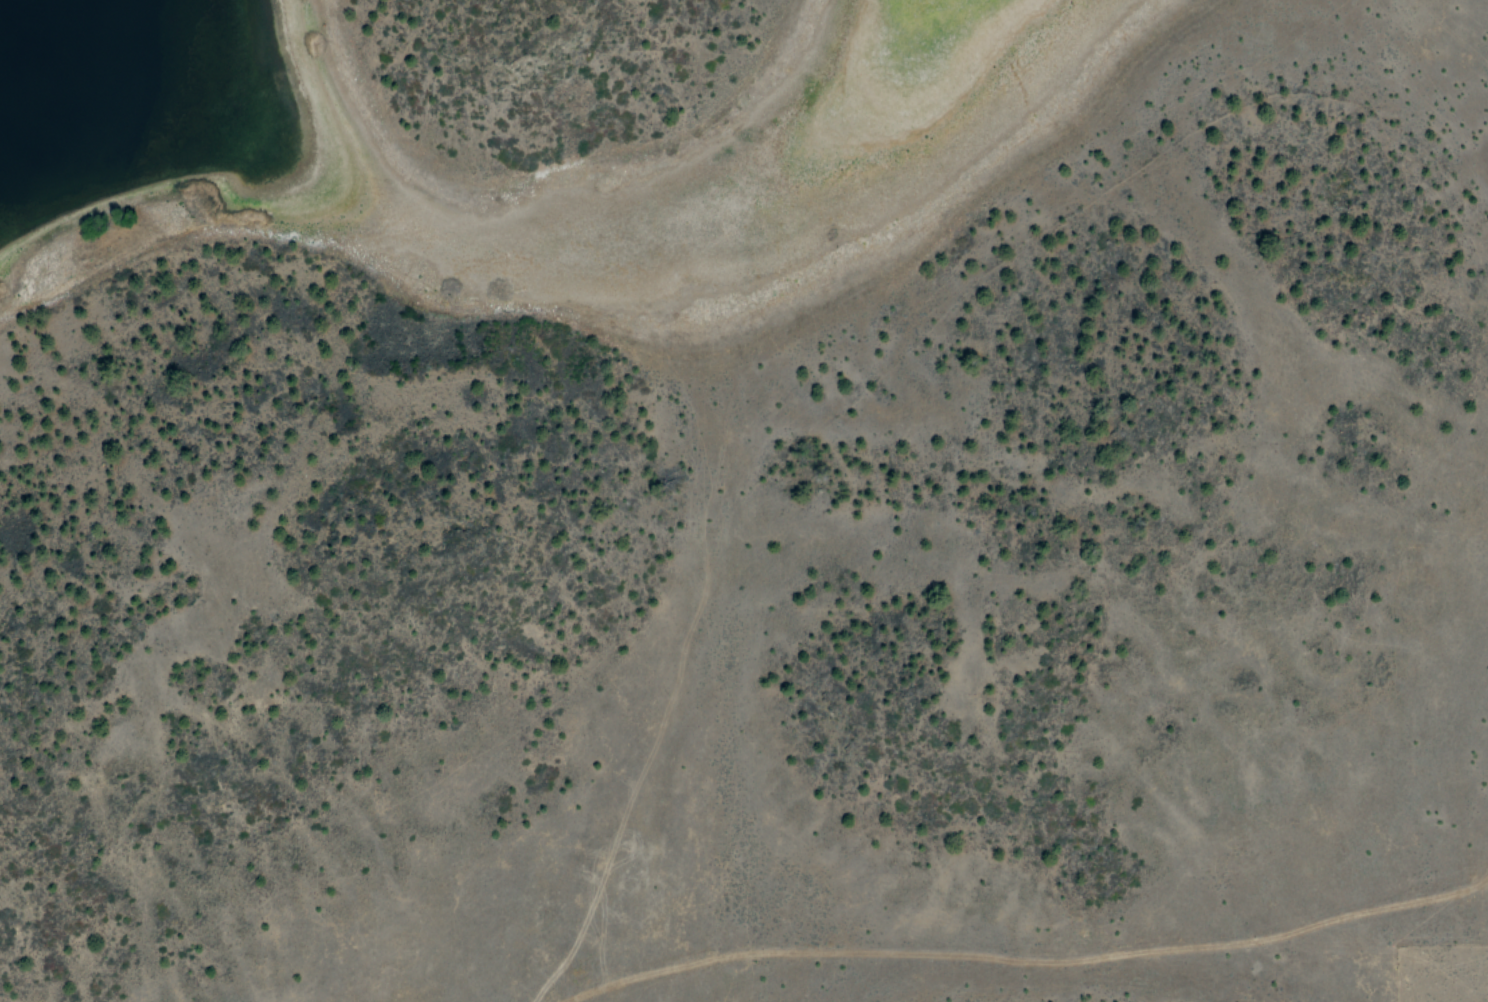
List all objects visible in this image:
road: (1024, 955)

